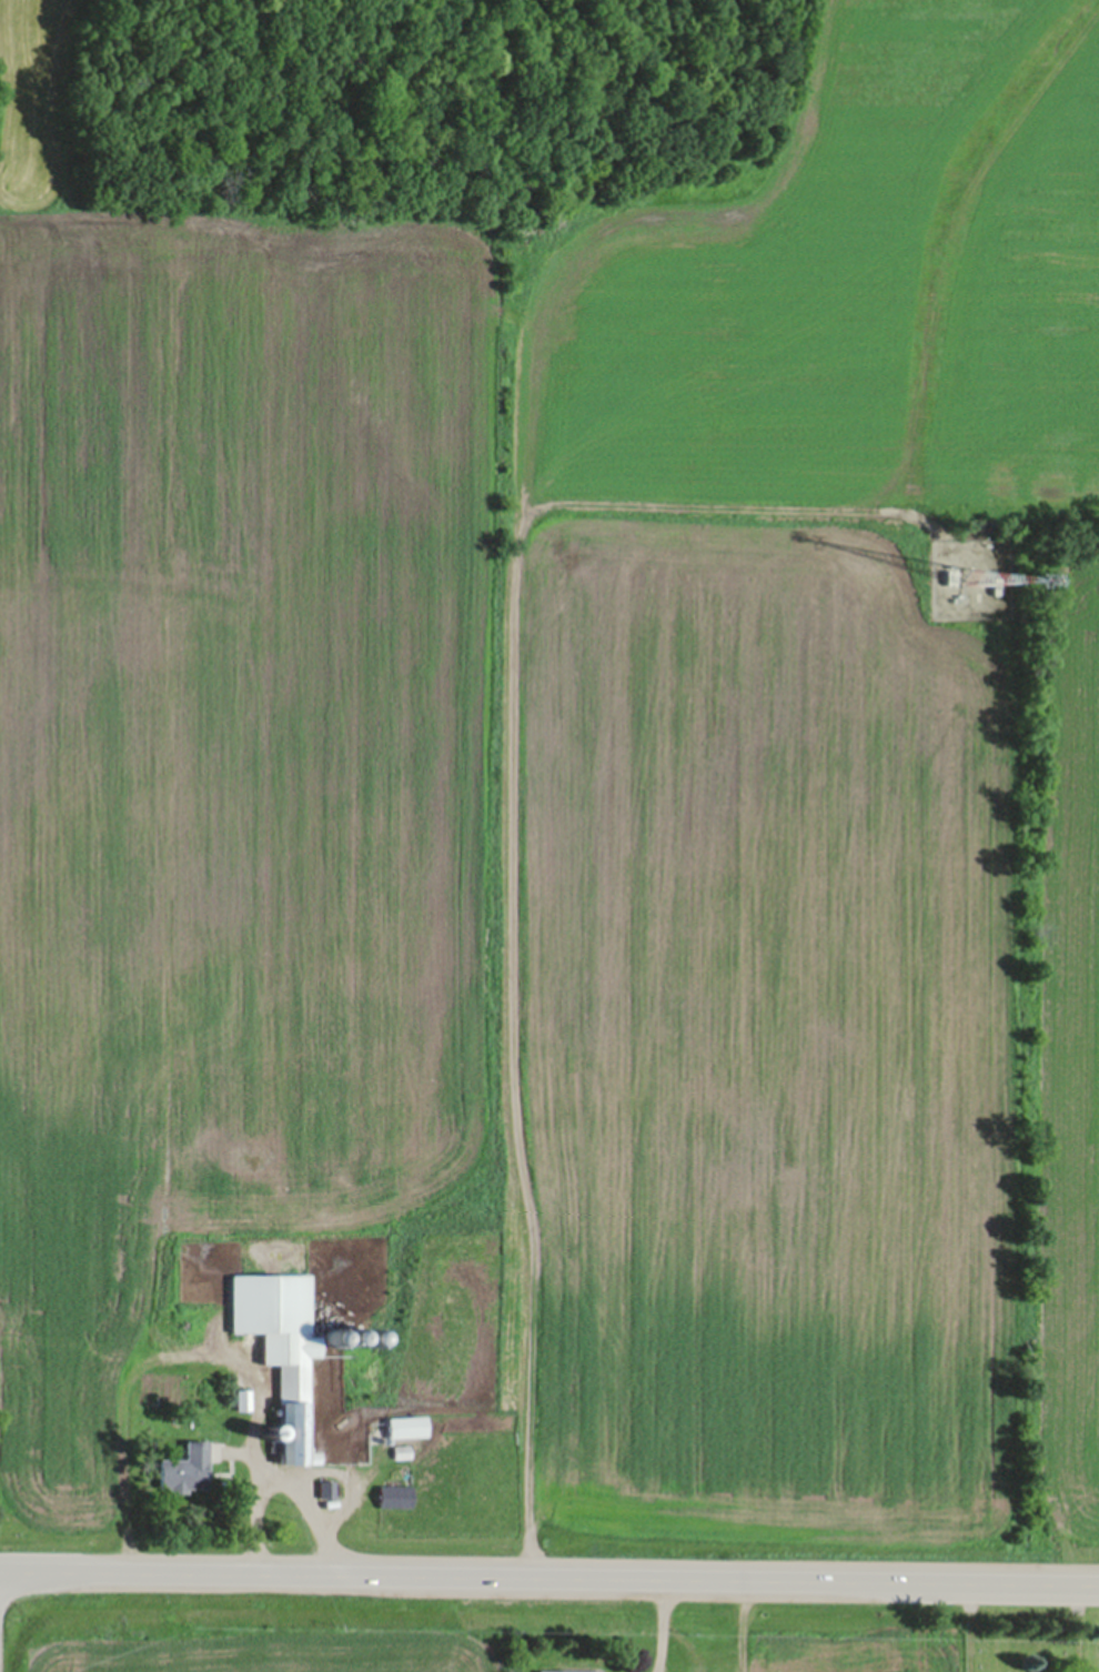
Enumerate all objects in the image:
building: (283, 1353)
building: (409, 1430)
building: (403, 1456)
road: (290, 1470)
building: (188, 1472)
building: (327, 1493)
building: (396, 1500)
road: (548, 1574)

